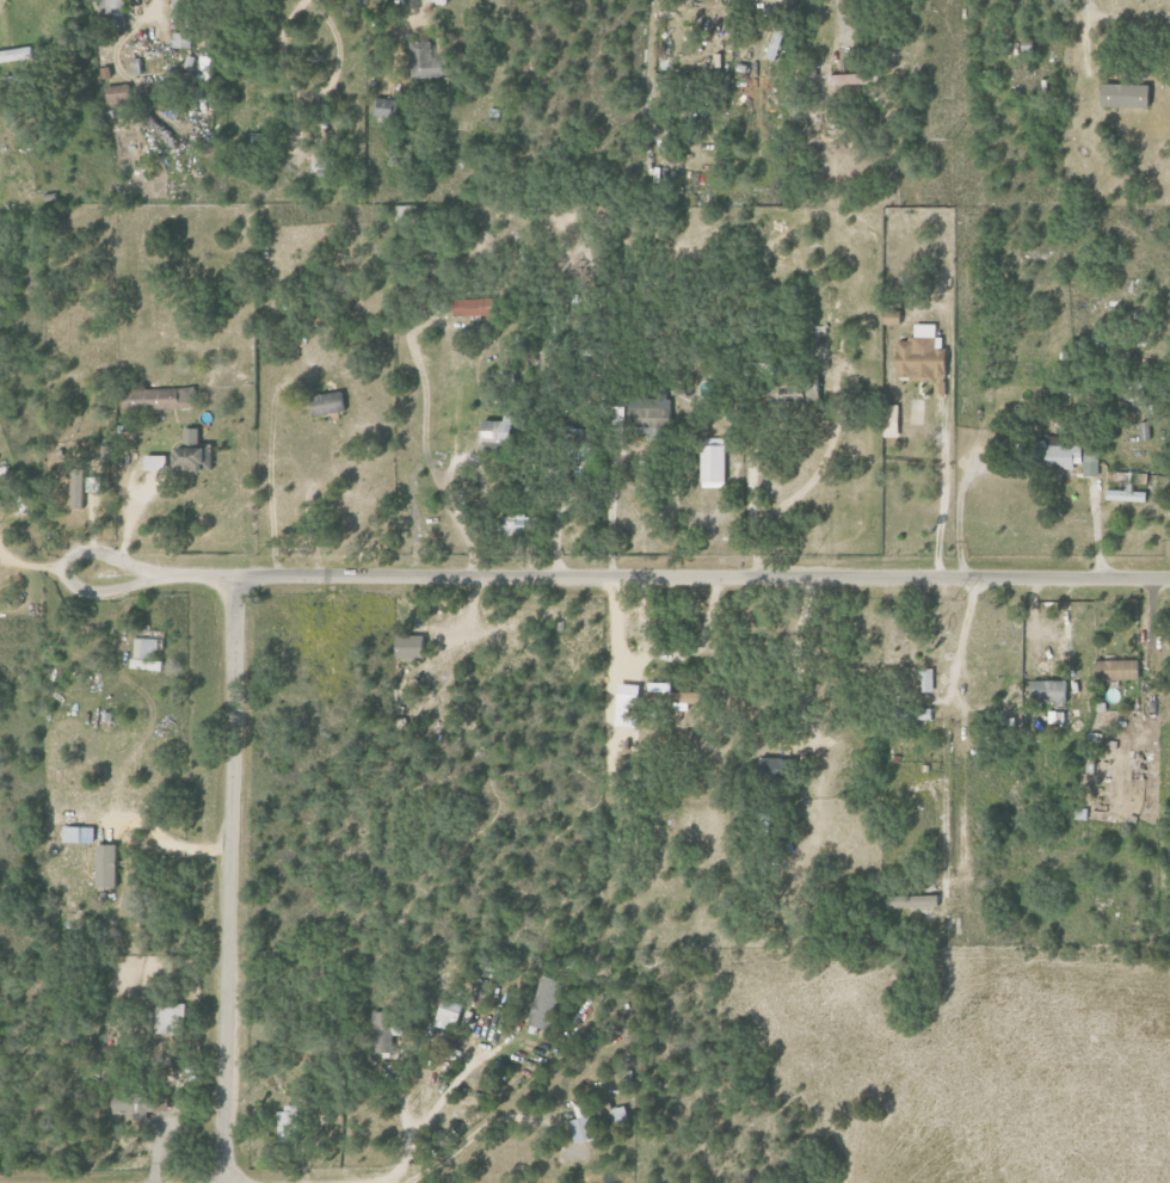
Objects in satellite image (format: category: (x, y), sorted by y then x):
building: (116, 10)
building: (180, 11)
building: (181, 41)
road: (1078, 42)
building: (772, 45)
road: (340, 47)
building: (17, 55)
building: (425, 61)
building: (848, 79)
building: (1120, 94)
building: (119, 95)
building: (383, 107)
power tower: (950, 137)
building: (468, 307)
building: (918, 358)
building: (156, 398)
building: (324, 403)
building: (647, 411)
building: (887, 420)
building: (491, 431)
building: (189, 454)
building: (1060, 458)
building: (152, 462)
building: (710, 462)
road: (805, 481)
road: (307, 488)
road: (944, 492)
road: (610, 511)
building: (510, 524)
road: (45, 561)
road: (629, 575)
power tower: (957, 599)
road: (959, 646)
building: (405, 647)
building: (143, 654)
building: (1114, 670)
building: (924, 679)
building: (1046, 691)
building: (672, 695)
building: (922, 713)
building: (772, 763)
road: (944, 806)
building: (74, 833)
building: (109, 865)
road: (226, 879)
building: (909, 901)
building: (546, 1002)
building: (450, 1015)
power tower: (967, 1015)
building: (168, 1019)
building: (382, 1031)
building: (134, 1104)
road: (431, 1111)
building: (288, 1125)
building: (584, 1125)
road: (462, 1142)

